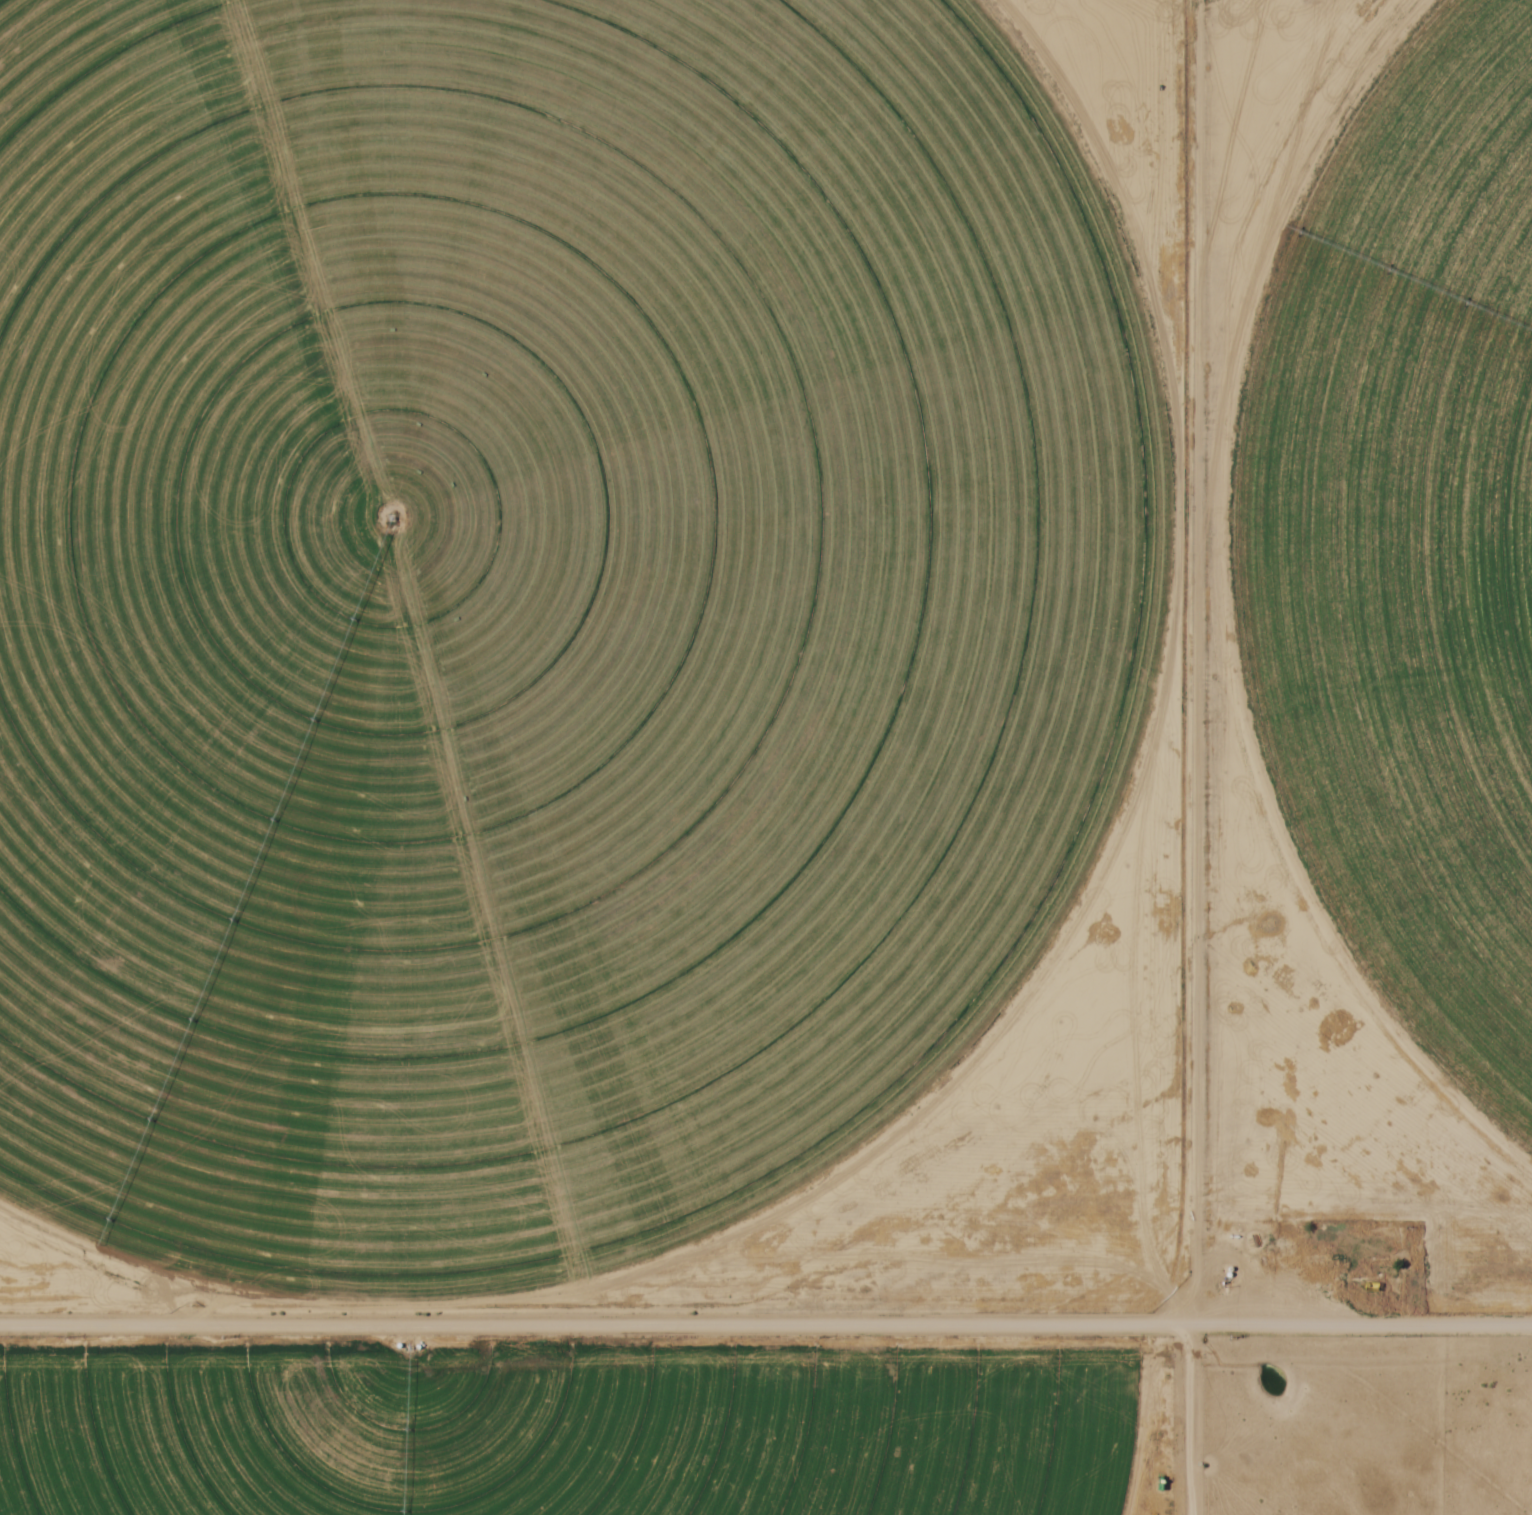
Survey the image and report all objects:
crop: (1405, 546)
crop: (548, 618)
road: (766, 1323)

